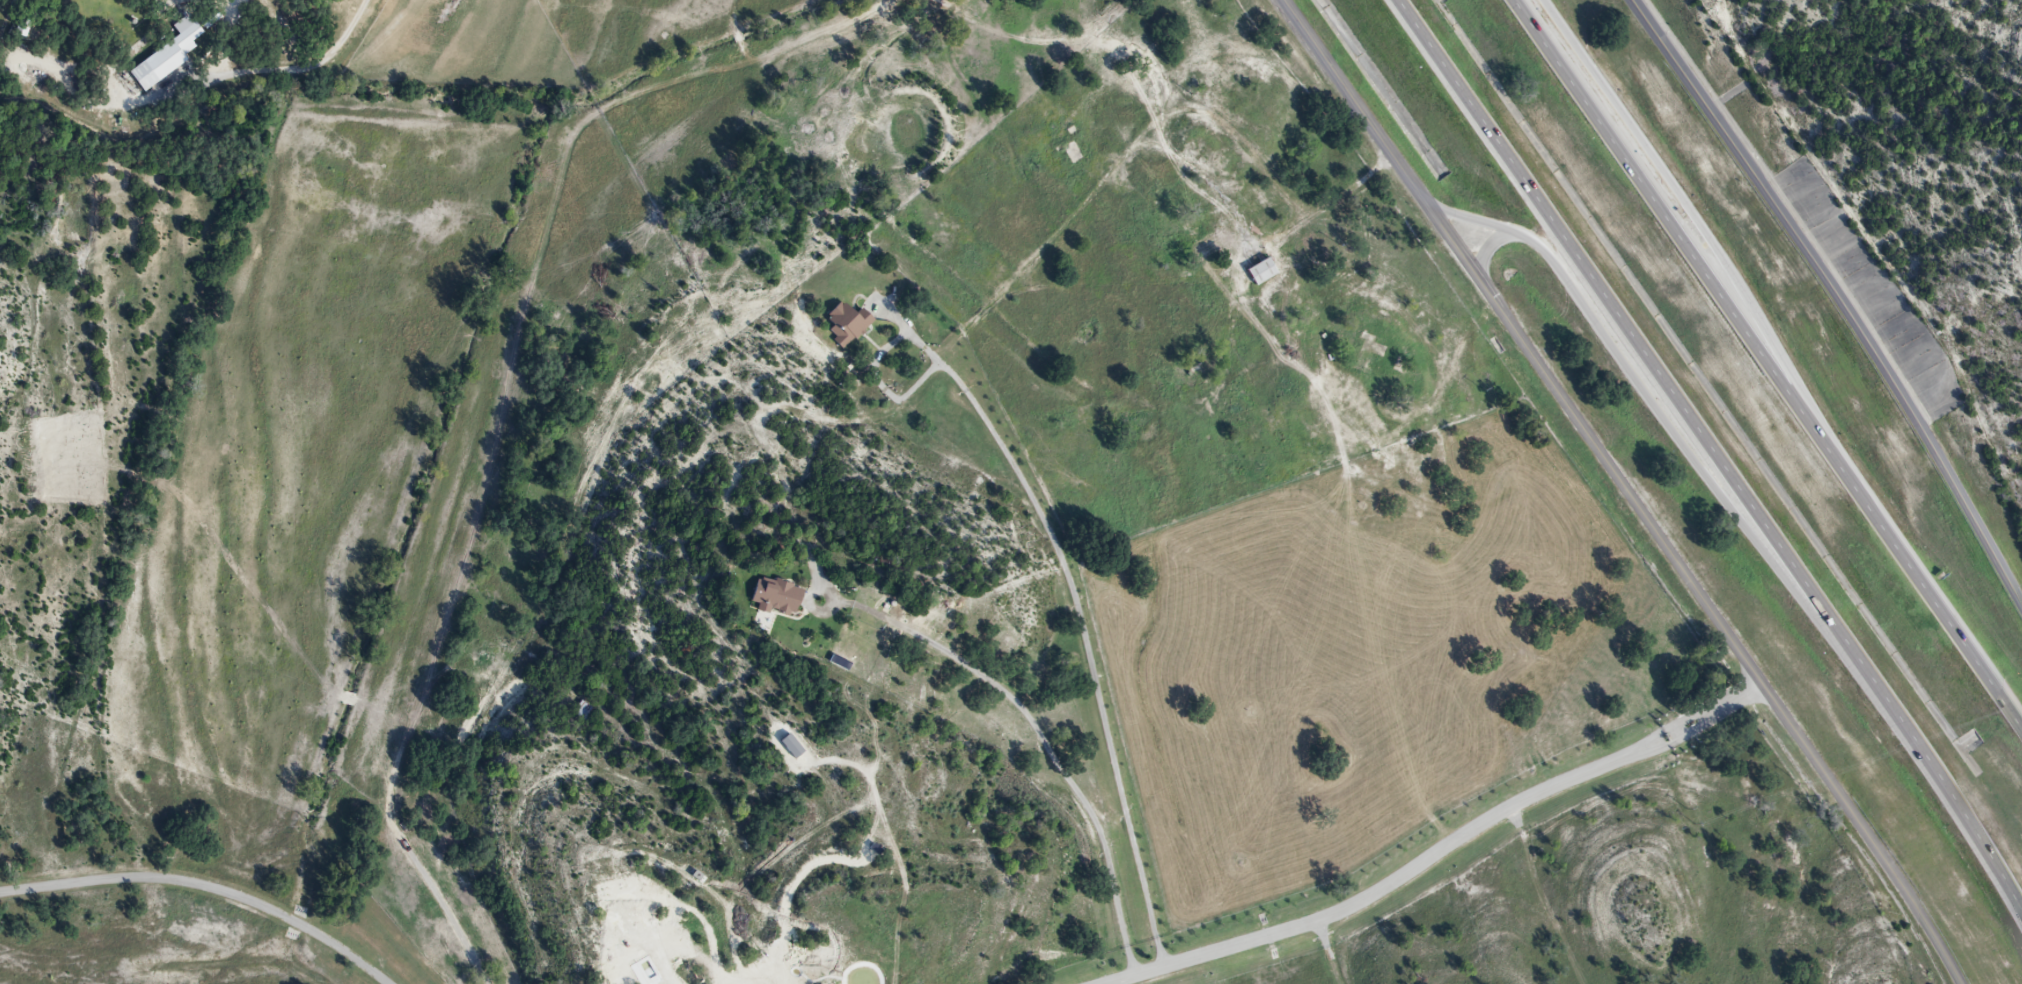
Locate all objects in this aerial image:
building: (168, 55)
road: (1355, 103)
road: (1709, 238)
road: (1491, 244)
road: (1685, 244)
building: (1261, 273)
road: (1834, 299)
road: (1612, 305)
building: (847, 325)
road: (1638, 387)
road: (1696, 595)
building: (777, 599)
road: (1935, 606)
road: (1082, 631)
building: (584, 713)
road: (1043, 730)
road: (1921, 766)
road: (1436, 853)
road: (205, 888)

